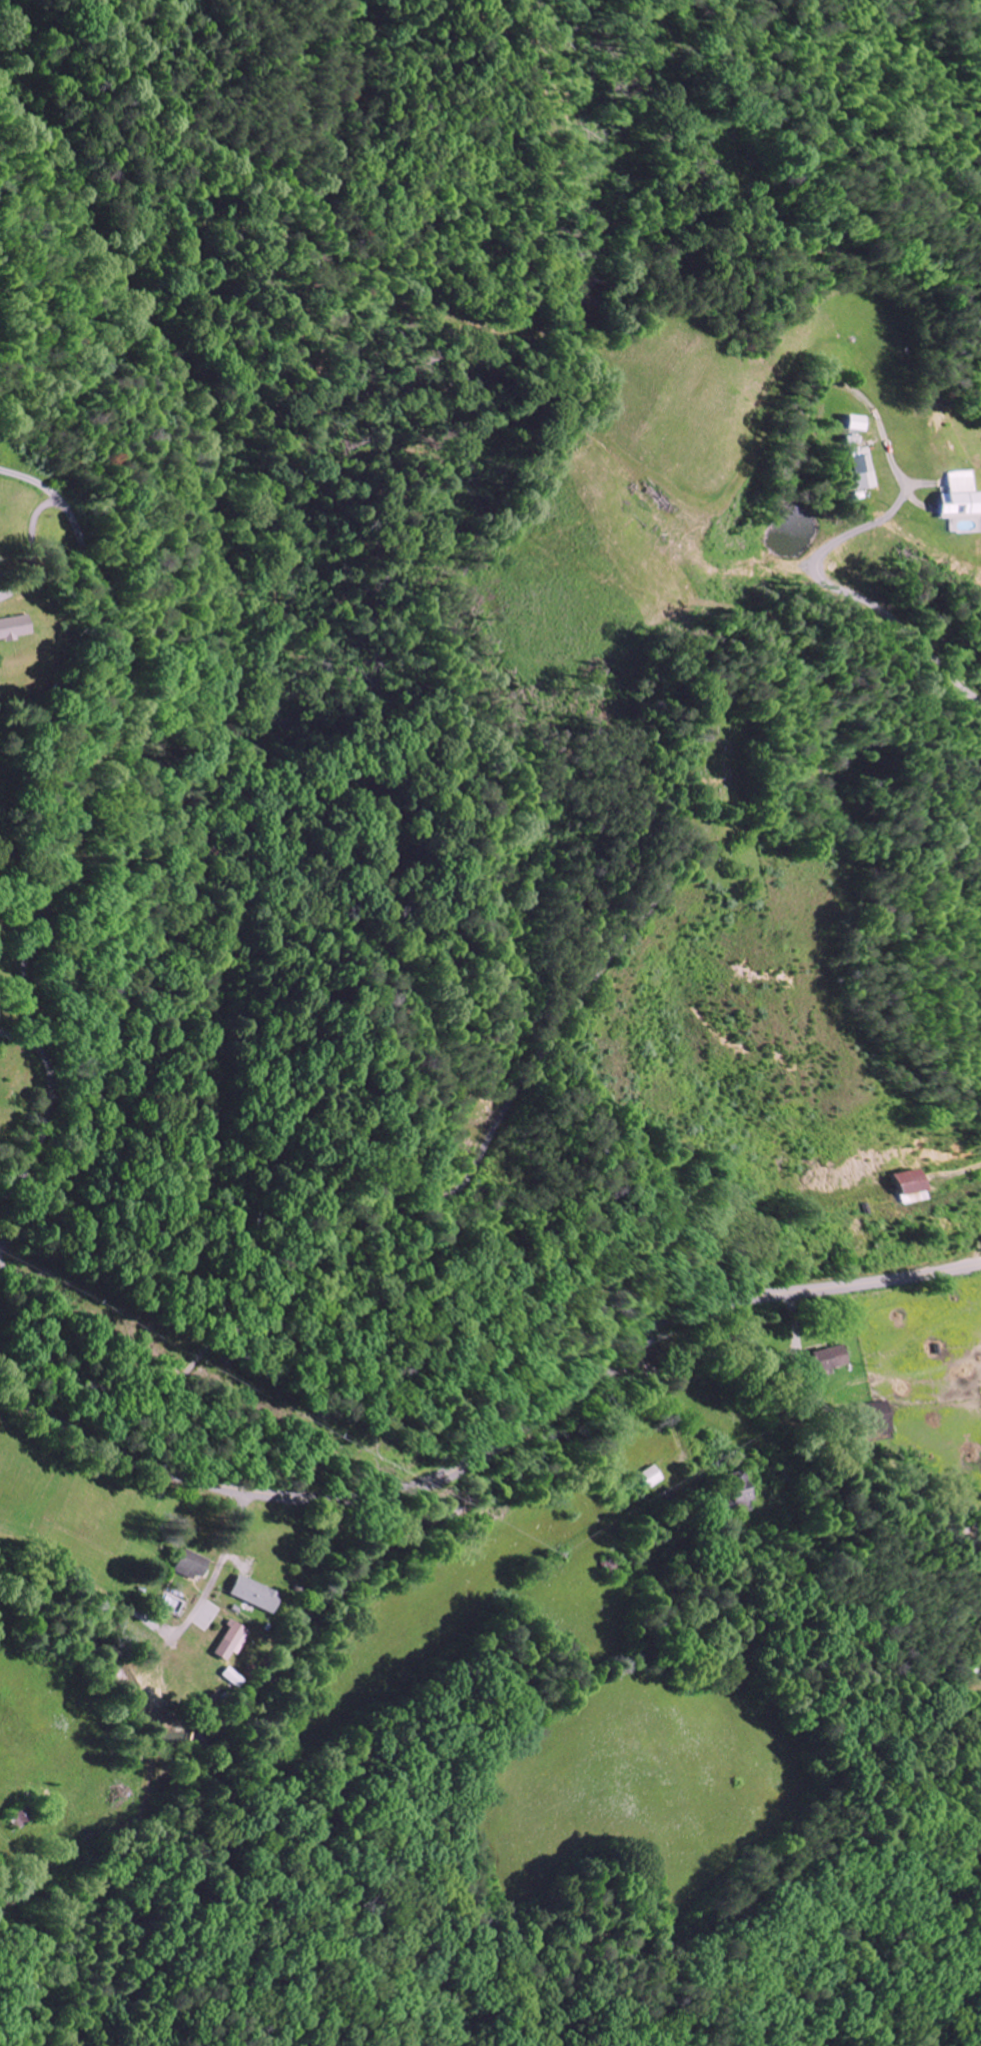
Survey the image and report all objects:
road: (860, 355)
building: (854, 423)
building: (858, 467)
building: (954, 497)
building: (10, 626)
road: (47, 1111)
building: (915, 1187)
building: (828, 1359)
road: (490, 1451)
building: (653, 1477)
building: (745, 1496)
building: (199, 1564)
building: (263, 1594)
building: (238, 1640)
building: (237, 1677)
building: (980, 1677)

